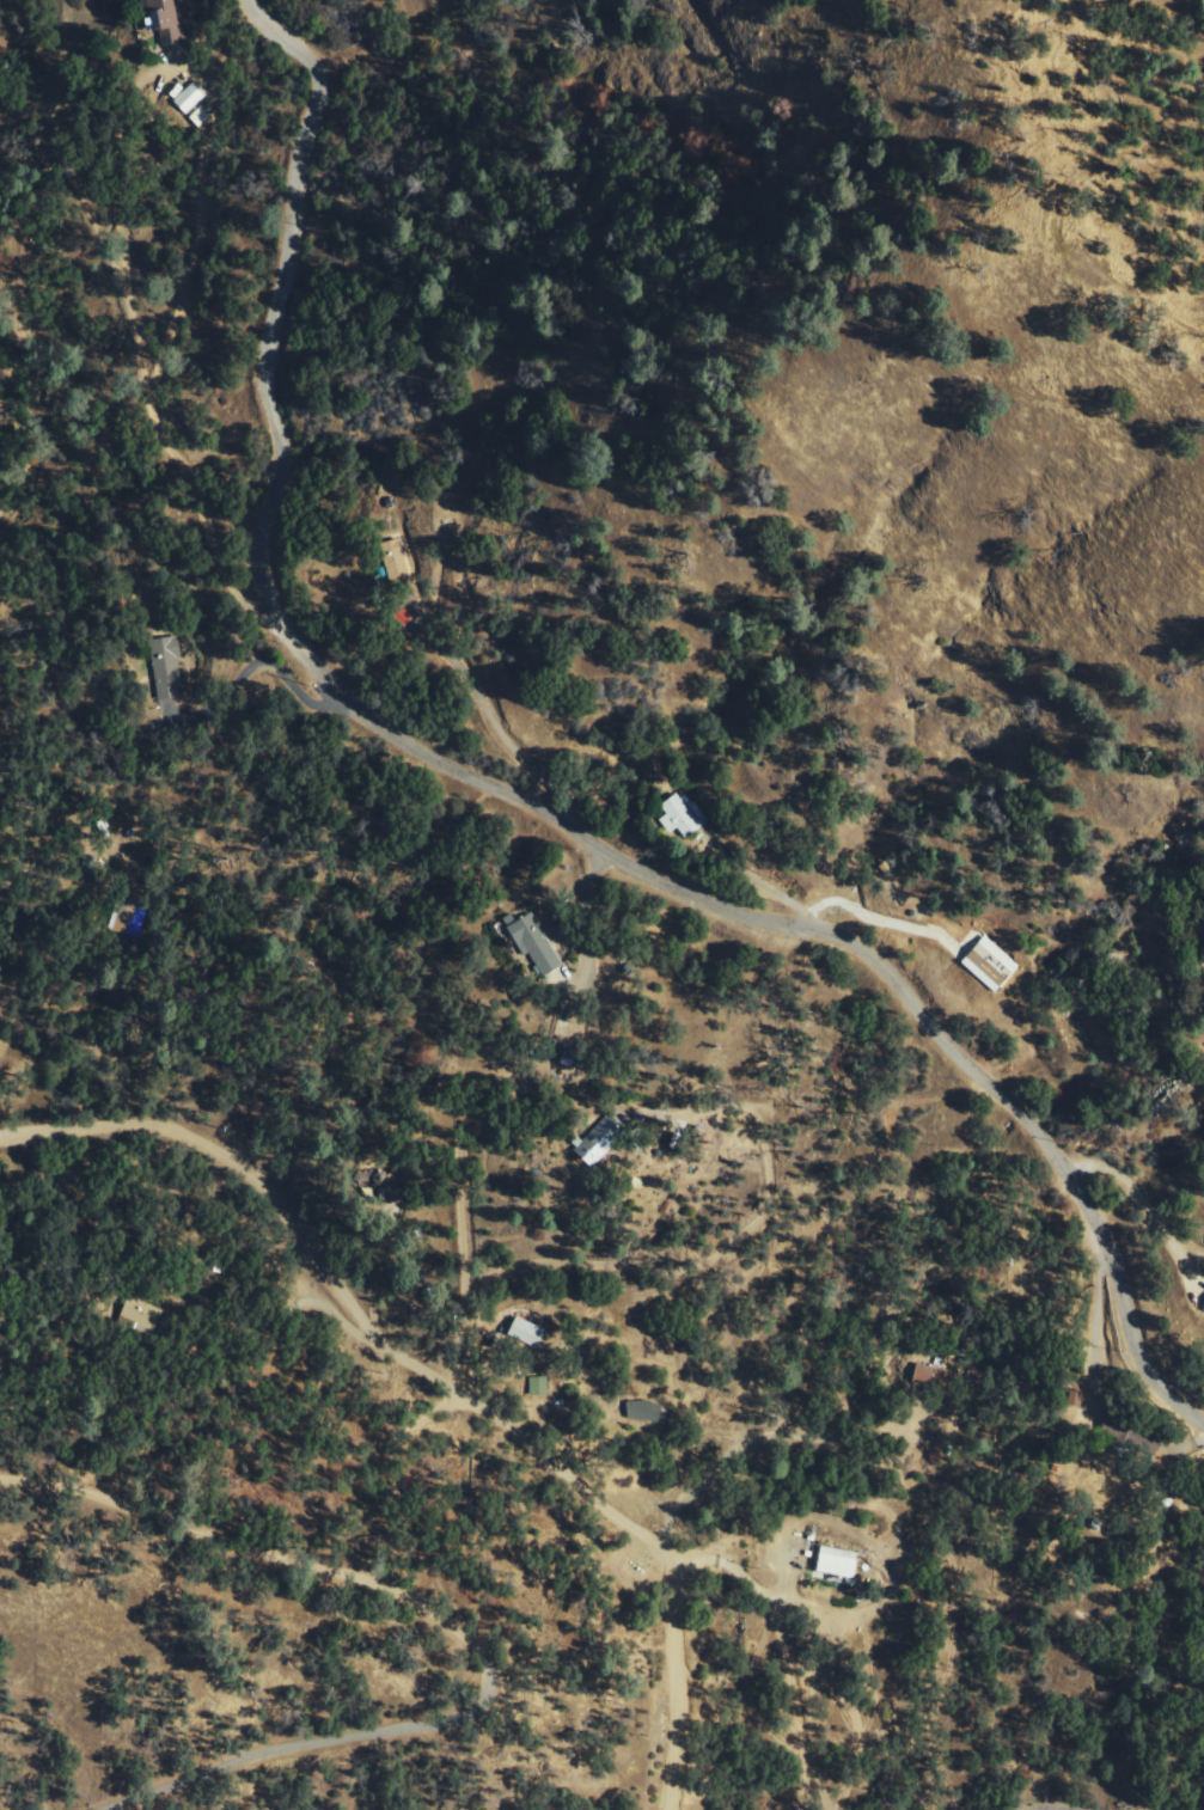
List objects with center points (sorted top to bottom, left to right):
building: (167, 22)
building: (190, 97)
building: (200, 116)
building: (397, 561)
building: (169, 668)
road: (575, 785)
road: (526, 802)
building: (683, 815)
road: (580, 909)
building: (129, 919)
building: (537, 944)
building: (991, 965)
building: (570, 1057)
building: (601, 1141)
road: (230, 1166)
building: (142, 1313)
building: (528, 1333)
building: (937, 1377)
building: (539, 1387)
building: (644, 1410)
building: (1120, 1430)
road: (624, 1525)
building: (839, 1561)
road: (457, 1629)

